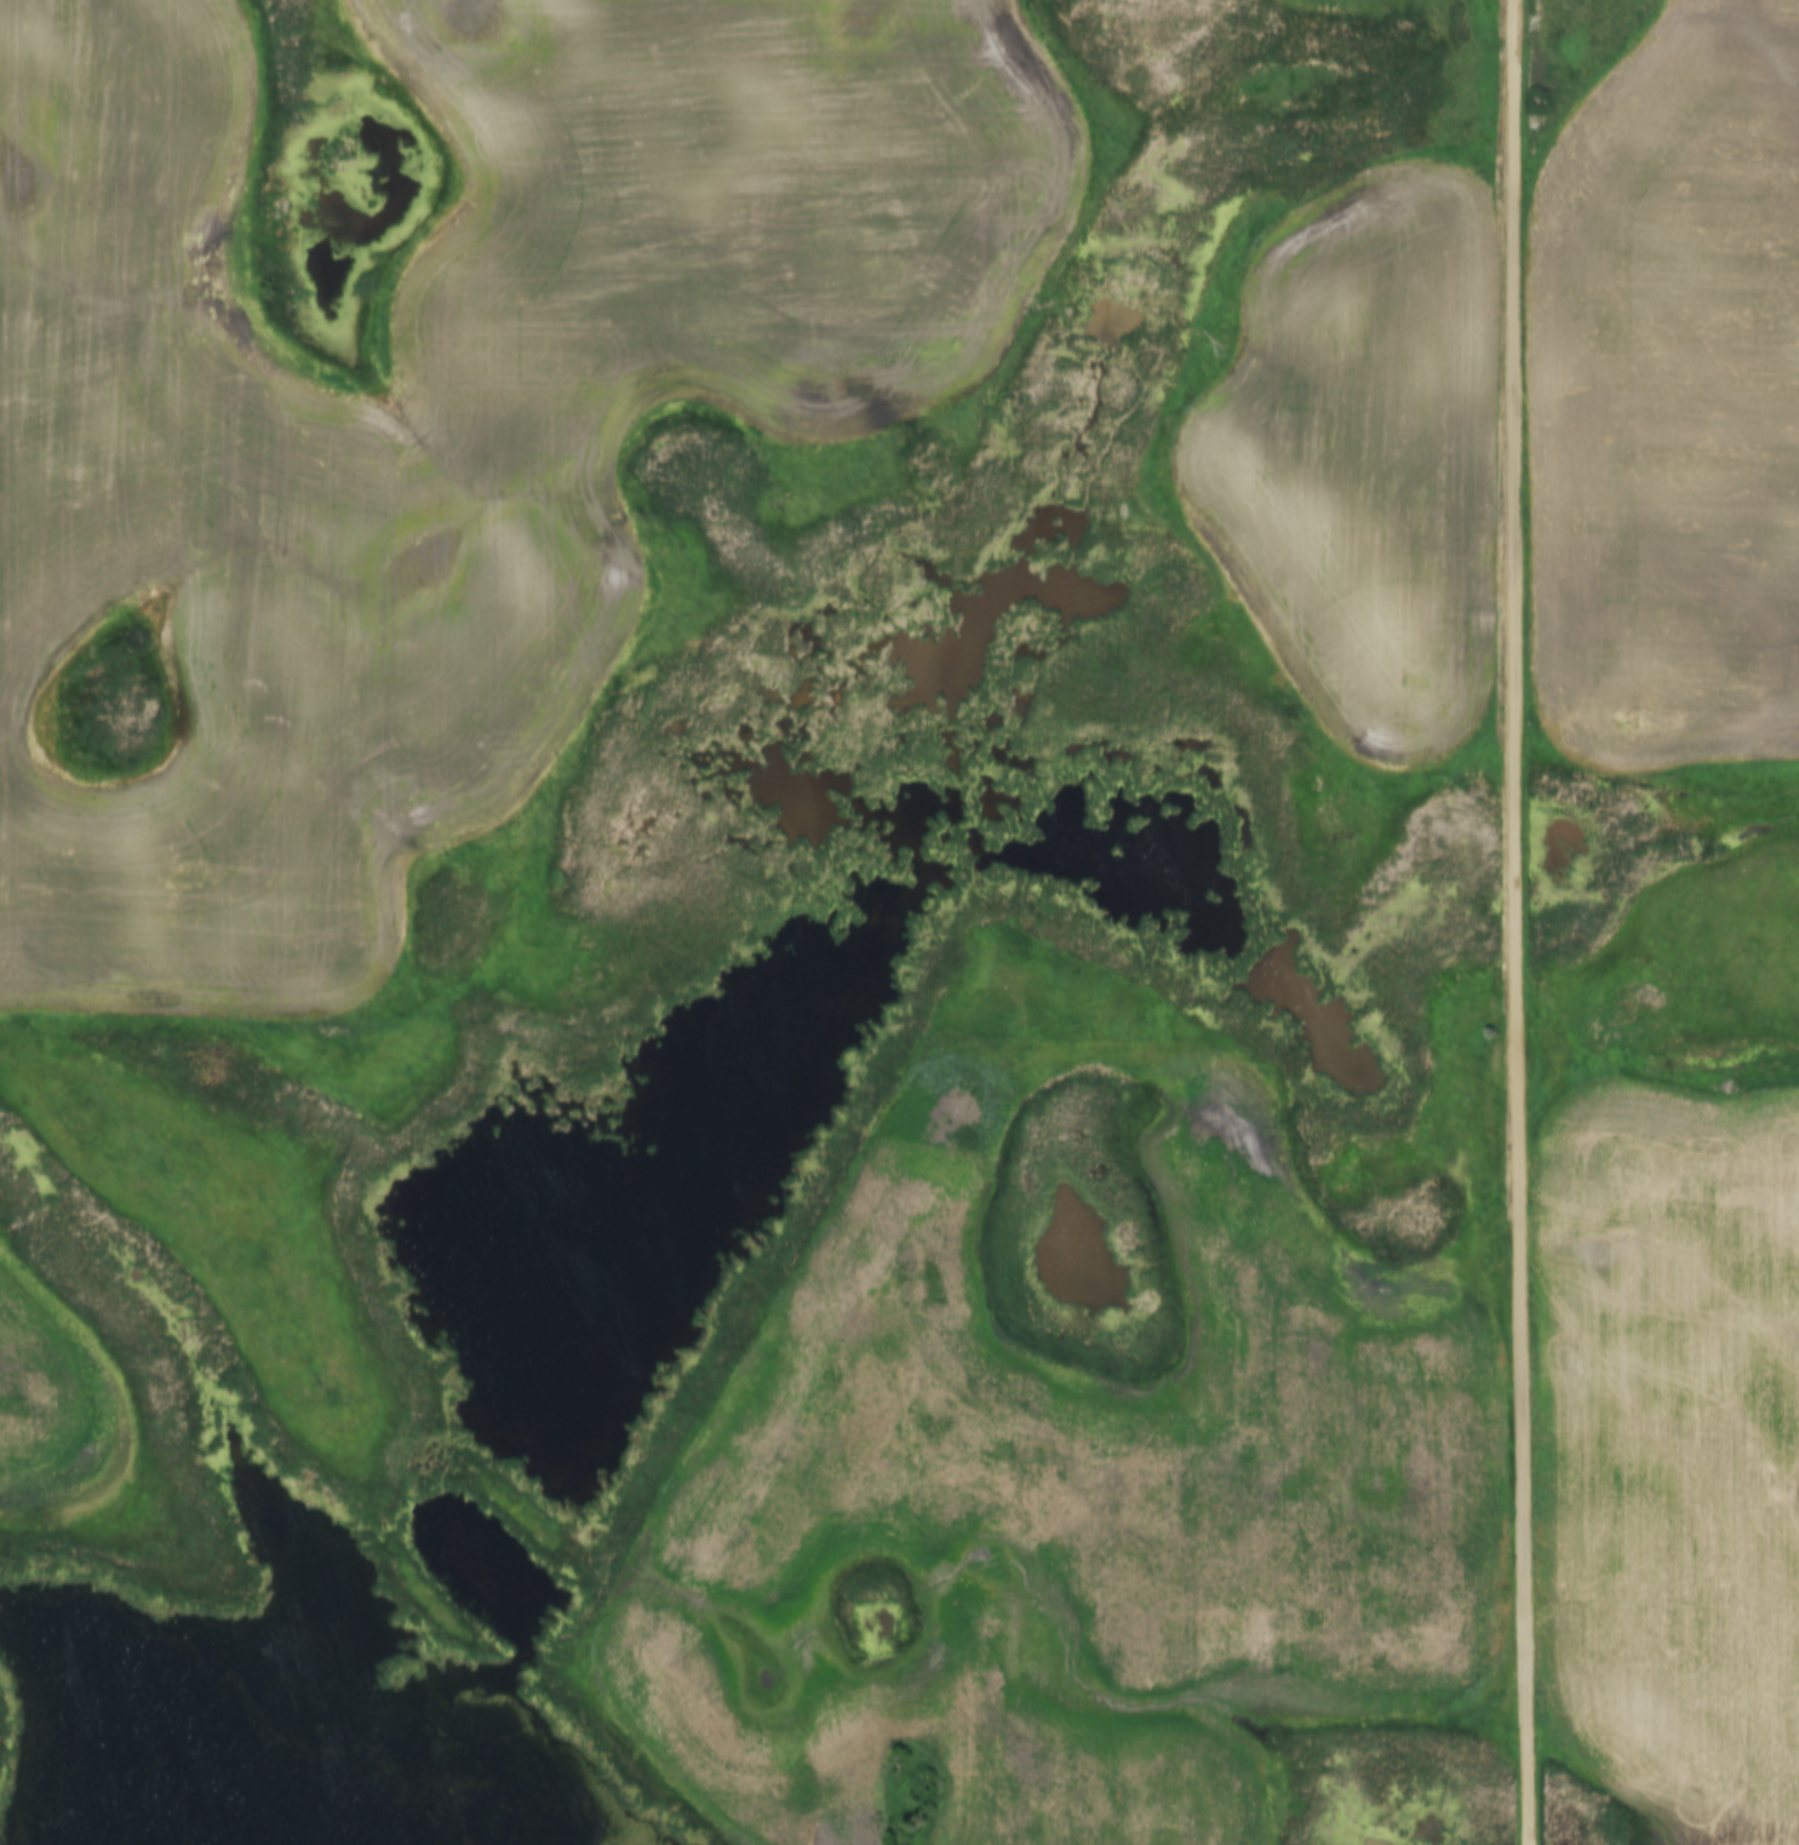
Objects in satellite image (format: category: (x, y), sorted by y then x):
road: (1514, 922)

